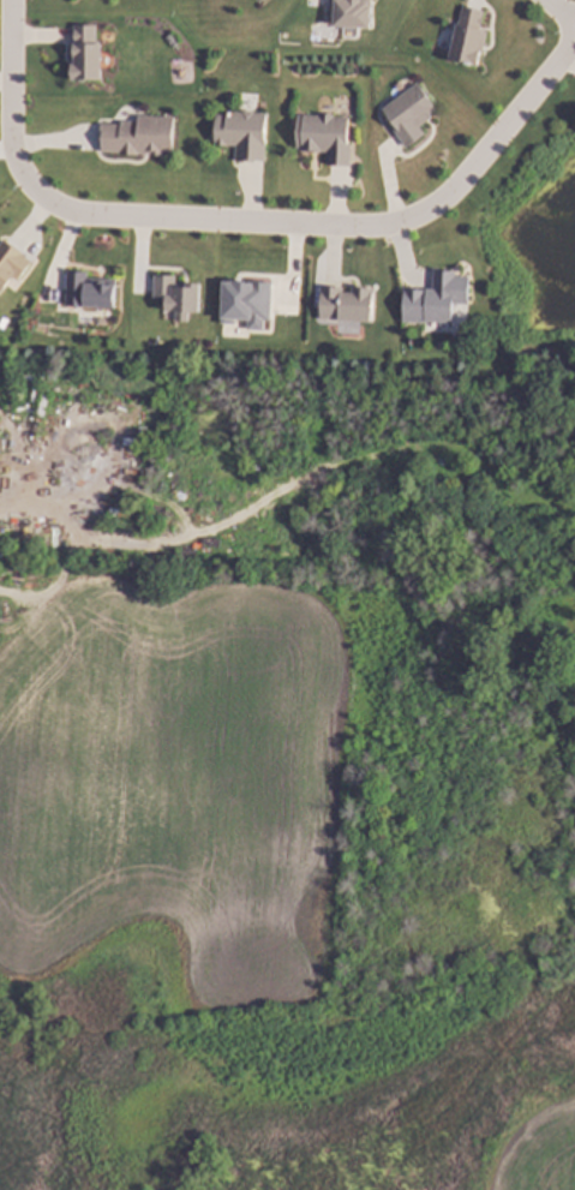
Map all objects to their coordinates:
building: (256, 1)
road: (559, 11)
building: (348, 14)
building: (465, 36)
building: (83, 53)
road: (13, 85)
building: (411, 115)
building: (244, 134)
building: (139, 137)
building: (325, 138)
road: (328, 227)
building: (12, 263)
building: (86, 292)
building: (178, 293)
building: (435, 300)
building: (241, 301)
building: (347, 301)
building: (0, 424)
building: (1, 439)
road: (23, 500)
crop: (173, 779)
crop: (538, 1152)

